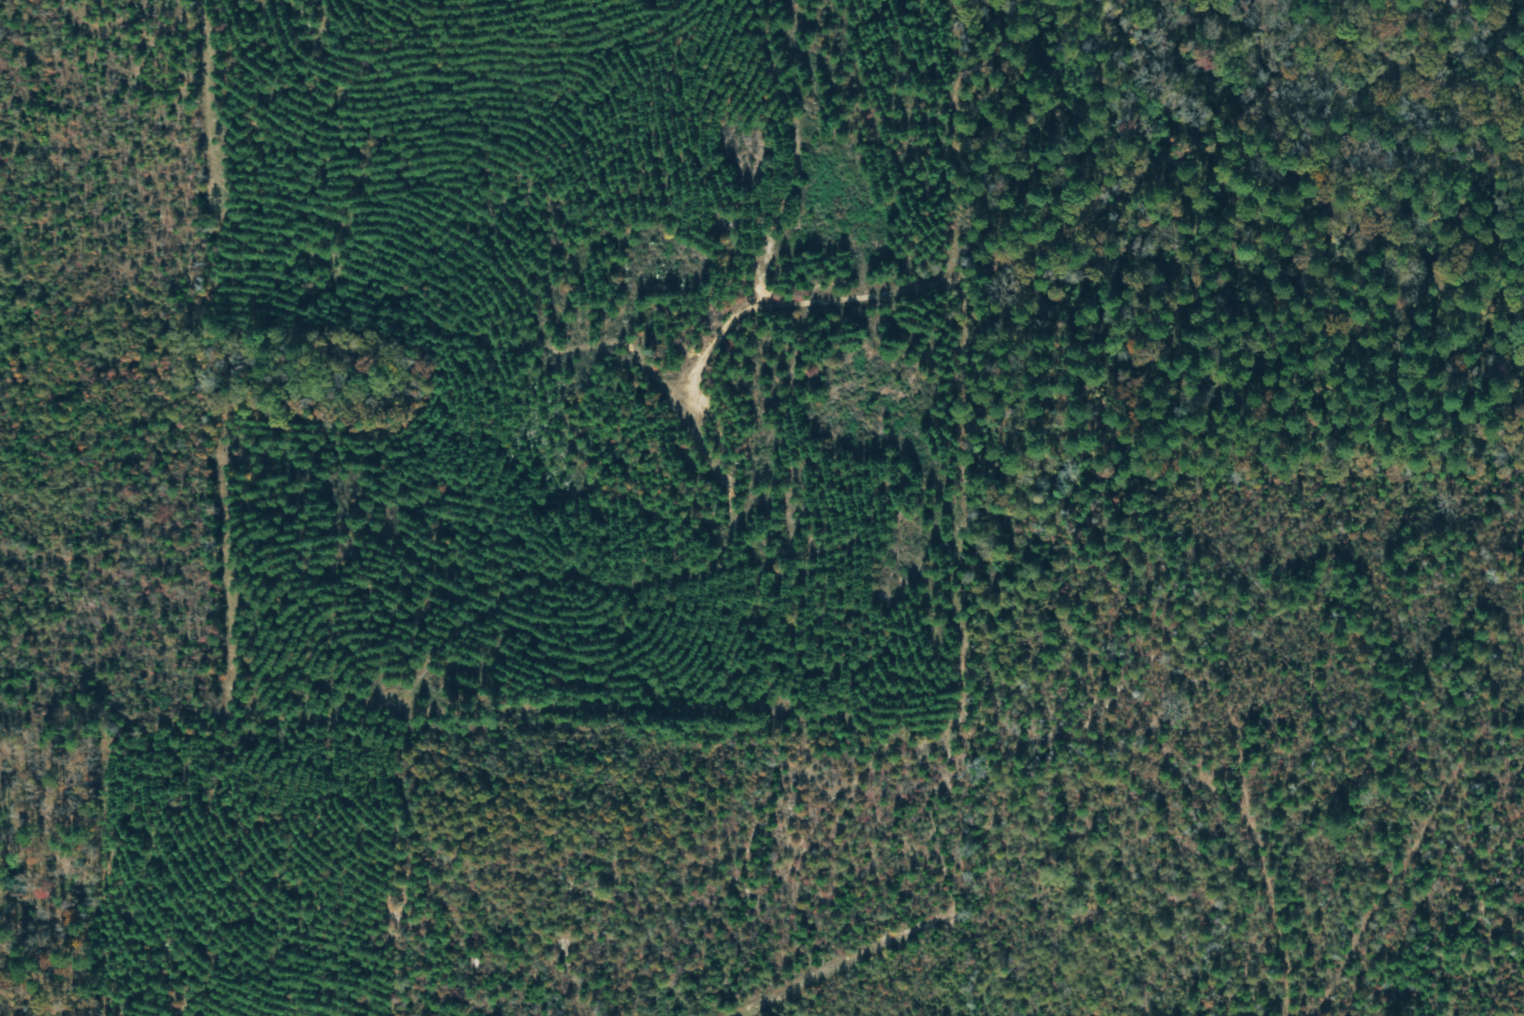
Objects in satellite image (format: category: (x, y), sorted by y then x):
road: (1229, 852)

